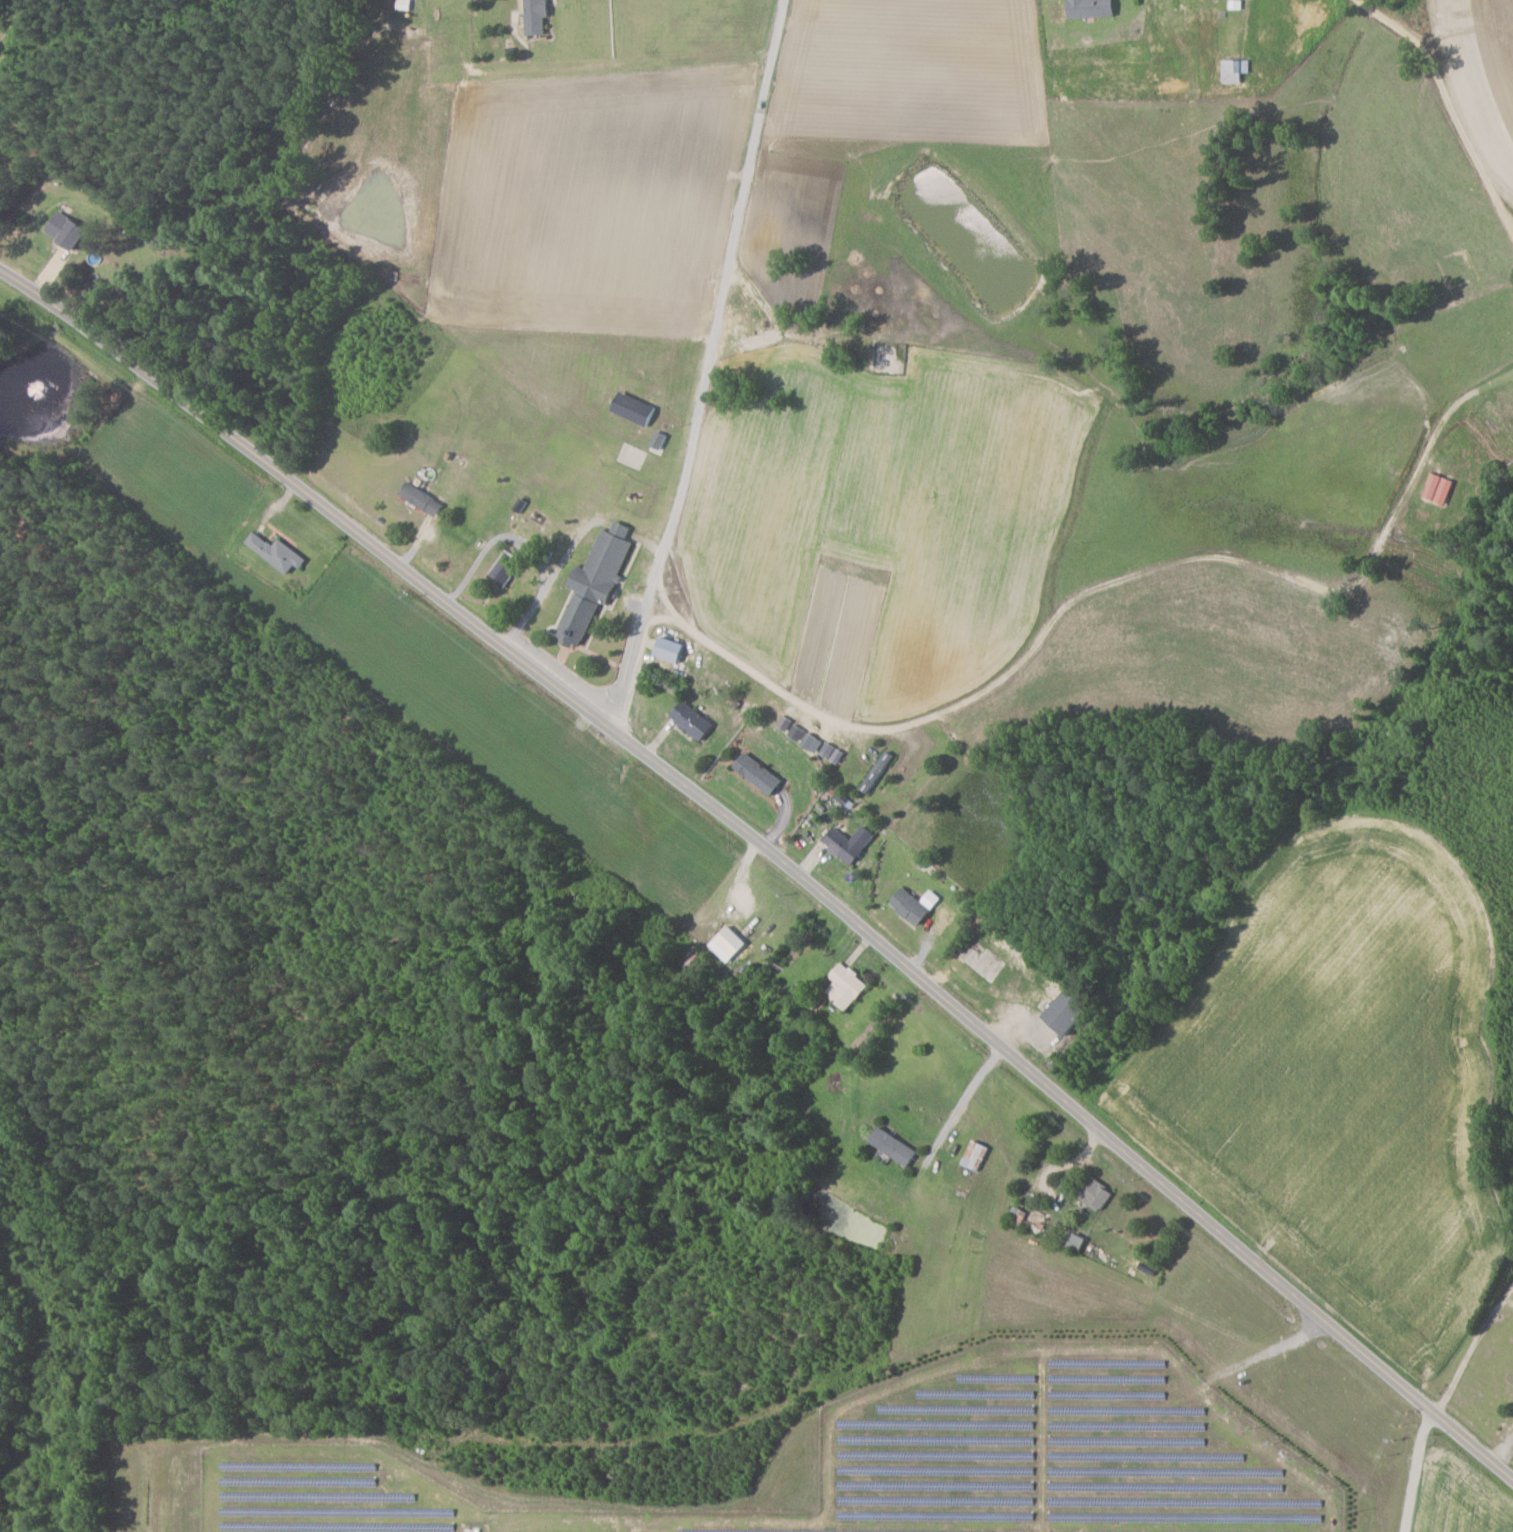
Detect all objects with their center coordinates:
building: (1092, 8)
building: (537, 16)
building: (1234, 70)
road: (1449, 105)
building: (67, 229)
road: (708, 366)
building: (635, 409)
building: (1439, 488)
building: (423, 499)
road: (525, 546)
building: (277, 552)
building: (506, 568)
building: (597, 581)
road: (678, 617)
building: (671, 649)
road: (779, 689)
building: (693, 720)
building: (813, 742)
building: (759, 774)
building: (850, 843)
road: (771, 858)
building: (914, 905)
building: (729, 944)
building: (846, 986)
building: (1071, 1009)
building: (895, 1146)
building: (976, 1155)
building: (1095, 1194)
building: (1078, 1243)
road: (1468, 1356)
road: (1505, 1451)
solar farm: (889, 1461)
road: (1417, 1472)

